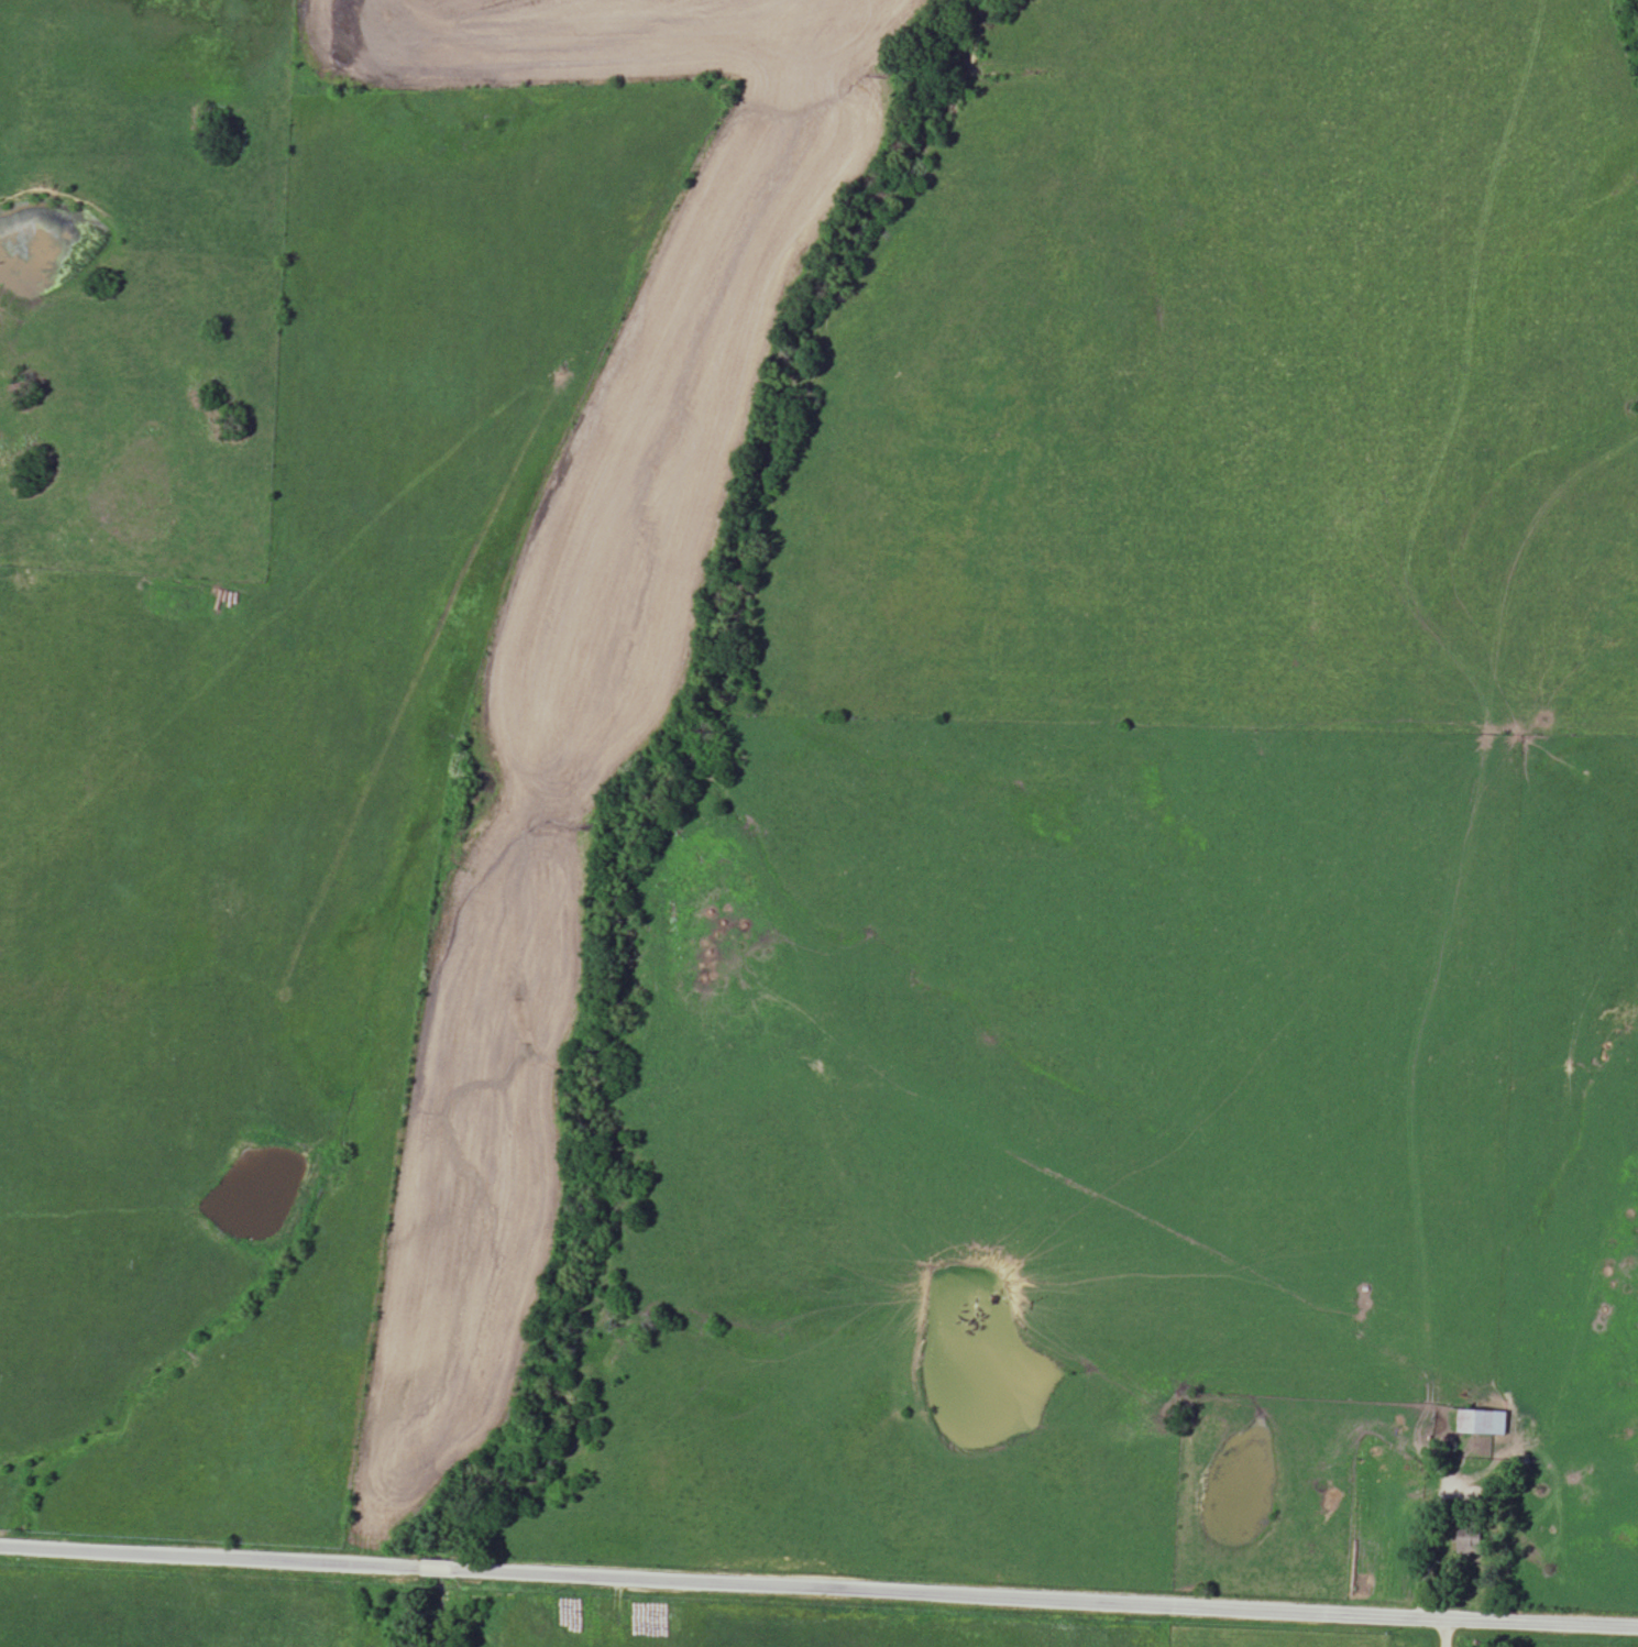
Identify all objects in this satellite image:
crop: (572, 659)
building: (1482, 1424)
road: (1431, 1542)
building: (1472, 1546)
road: (818, 1590)
road: (1449, 1633)

